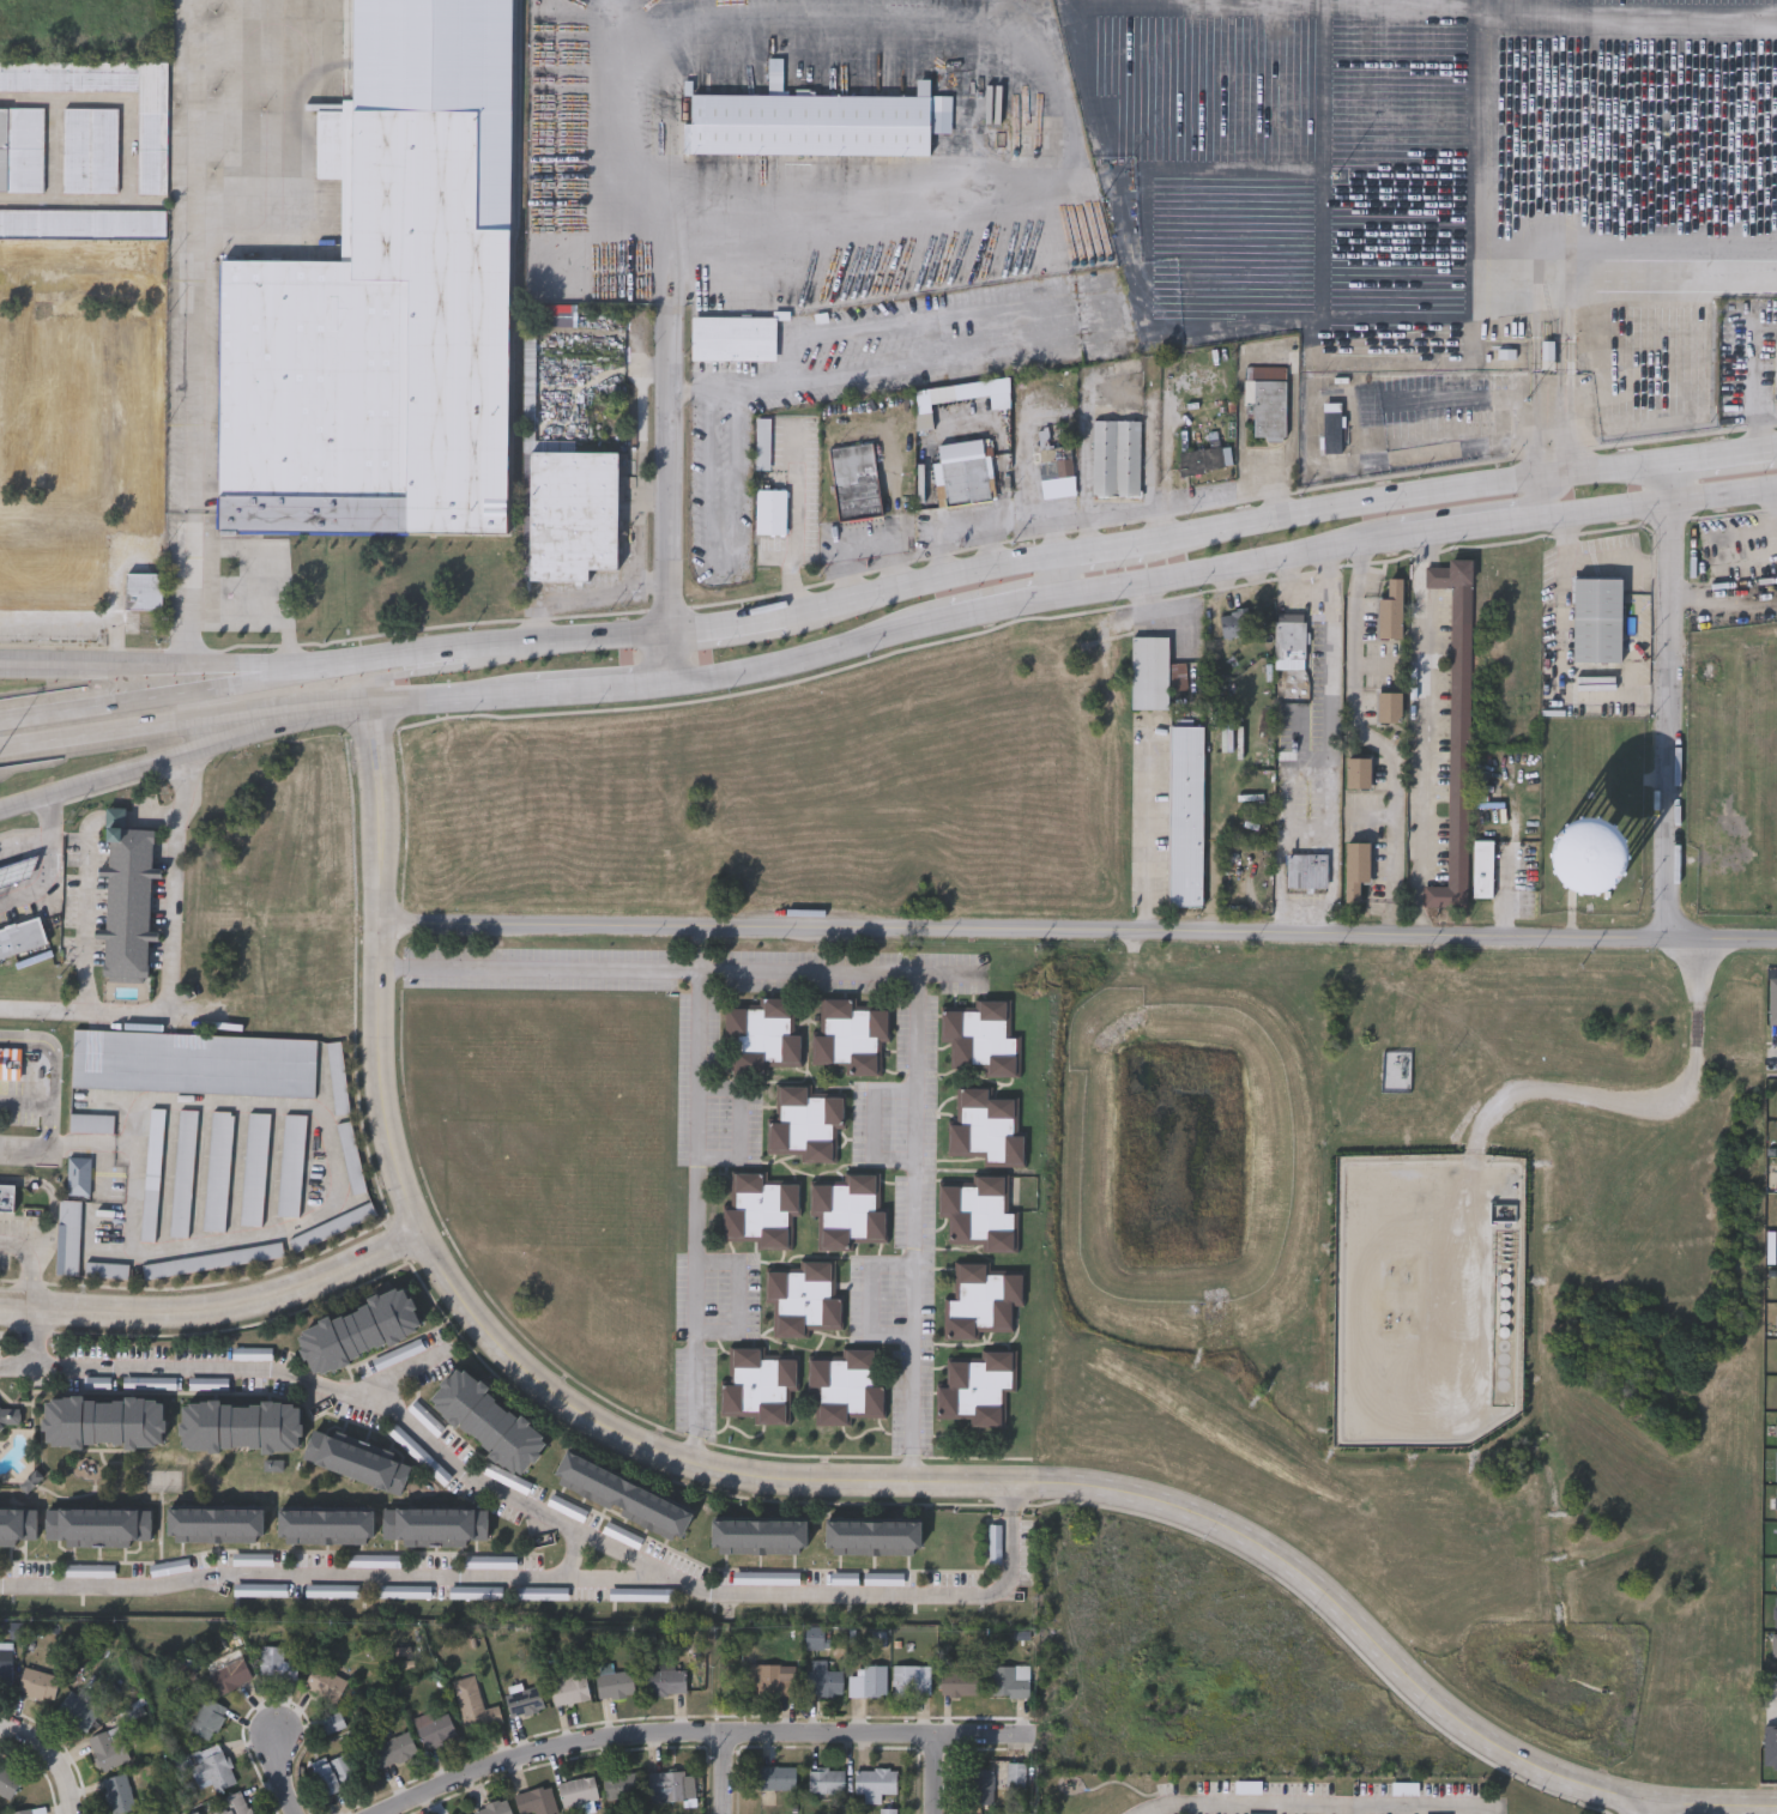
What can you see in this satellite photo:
road: (1628, 14)
building: (446, 78)
road: (1071, 108)
building: (817, 121)
building: (1036, 140)
building: (153, 141)
building: (22, 149)
building: (91, 149)
road: (126, 150)
road: (634, 163)
road: (1477, 180)
building: (83, 222)
road: (1664, 250)
building: (83, 252)
building: (735, 337)
road: (1537, 344)
road: (1566, 344)
road: (194, 346)
building: (374, 350)
road: (859, 369)
building: (1265, 373)
road: (1753, 388)
road: (25, 404)
building: (1267, 406)
building: (72, 407)
building: (134, 418)
building: (1332, 425)
road: (1551, 440)
building: (763, 441)
road: (1775, 445)
road: (157, 447)
road: (1719, 453)
building: (1117, 455)
building: (1056, 456)
building: (962, 472)
road: (671, 473)
building: (856, 480)
road: (1404, 495)
building: (772, 509)
building: (570, 512)
road: (1467, 512)
road: (60, 520)
road: (1054, 528)
road: (808, 531)
road: (1416, 531)
road: (865, 544)
road: (1101, 544)
building: (53, 572)
road: (1058, 574)
road: (930, 579)
road: (1293, 586)
building: (144, 589)
road: (1005, 606)
road: (265, 607)
building: (1390, 611)
building: (1595, 619)
road: (737, 621)
building: (1235, 624)
building: (1289, 641)
road: (114, 642)
road: (477, 646)
road: (812, 657)
road: (671, 658)
road: (12, 663)
road: (143, 666)
road: (434, 669)
building: (1149, 673)
road: (1329, 688)
road: (143, 691)
road: (603, 693)
road: (1667, 700)
road: (413, 701)
building: (1389, 708)
building: (1457, 725)
road: (1425, 730)
road: (146, 732)
road: (1368, 739)
road: (167, 756)
building: (1358, 773)
road: (22, 806)
road: (17, 814)
road: (117, 816)
building: (1186, 816)
road: (152, 817)
road: (1144, 830)
road: (1308, 830)
building: (1574, 857)
water tower: (1595, 860)
road: (44, 865)
building: (1355, 869)
building: (1482, 869)
building: (1306, 871)
gas station: (17, 875)
building: (135, 903)
road: (86, 907)
road: (718, 931)
building: (22, 936)
road: (1418, 936)
road: (170, 962)
road: (388, 971)
road: (697, 974)
building: (761, 1038)
building: (850, 1038)
building: (981, 1040)
road: (1775, 1059)
building: (8, 1062)
building: (195, 1063)
building: (338, 1077)
road: (52, 1092)
road: (1648, 1100)
road: (25, 1102)
building: (91, 1121)
road: (875, 1121)
road: (739, 1123)
building: (804, 1125)
building: (985, 1129)
road: (332, 1155)
building: (351, 1156)
building: (292, 1165)
building: (255, 1168)
building: (218, 1171)
building: (151, 1173)
building: (182, 1173)
building: (78, 1175)
building: (6, 1198)
road: (52, 1198)
road: (697, 1204)
building: (760, 1211)
building: (847, 1213)
building: (979, 1214)
road: (909, 1215)
building: (333, 1227)
building: (68, 1236)
building: (214, 1259)
road: (35, 1260)
building: (107, 1269)
road: (737, 1294)
road: (872, 1298)
road: (458, 1300)
building: (803, 1300)
building: (980, 1302)
road: (213, 1314)
building: (357, 1330)
road: (36, 1336)
building: (846, 1386)
building: (757, 1387)
building: (977, 1390)
building: (6, 1417)
building: (103, 1422)
building: (488, 1422)
building: (238, 1426)
road: (697, 1451)
building: (355, 1463)
road: (903, 1469)
building: (621, 1496)
road: (549, 1510)
building: (213, 1525)
building: (18, 1526)
building: (97, 1526)
building: (324, 1526)
building: (434, 1526)
building: (760, 1534)
building: (876, 1534)
building: (622, 1535)
building: (996, 1547)
road: (307, 1571)
building: (477, 1595)
road: (1390, 1659)
building: (274, 1663)
building: (5, 1664)
building: (228, 1676)
building: (822, 1679)
building: (769, 1681)
building: (909, 1681)
building: (1008, 1681)
building: (665, 1682)
building: (866, 1682)
building: (324, 1683)
building: (614, 1683)
building: (956, 1683)
building: (37, 1685)
building: (568, 1685)
road: (1772, 1693)
building: (524, 1701)
building: (473, 1706)
building: (75, 1711)
building: (206, 1719)
building: (331, 1723)
road: (726, 1727)
building: (434, 1730)
road: (684, 1734)
building: (107, 1749)
building: (393, 1750)
road: (54, 1759)
road: (280, 1767)
building: (210, 1768)
road: (933, 1773)
building: (333, 1776)
building: (1015, 1776)
building: (775, 1779)
building: (7, 1782)
building: (826, 1782)
building: (874, 1783)
building: (621, 1785)
building: (1249, 1785)
building: (670, 1786)
building: (979, 1786)
building: (1404, 1788)
building: (578, 1791)
building: (117, 1794)
building: (536, 1801)
building: (228, 1806)
building: (494, 1808)
road: (1322, 1808)
road: (1640, 1808)
building: (884, 1810)
road: (1341, 1810)
building: (20, 1812)

